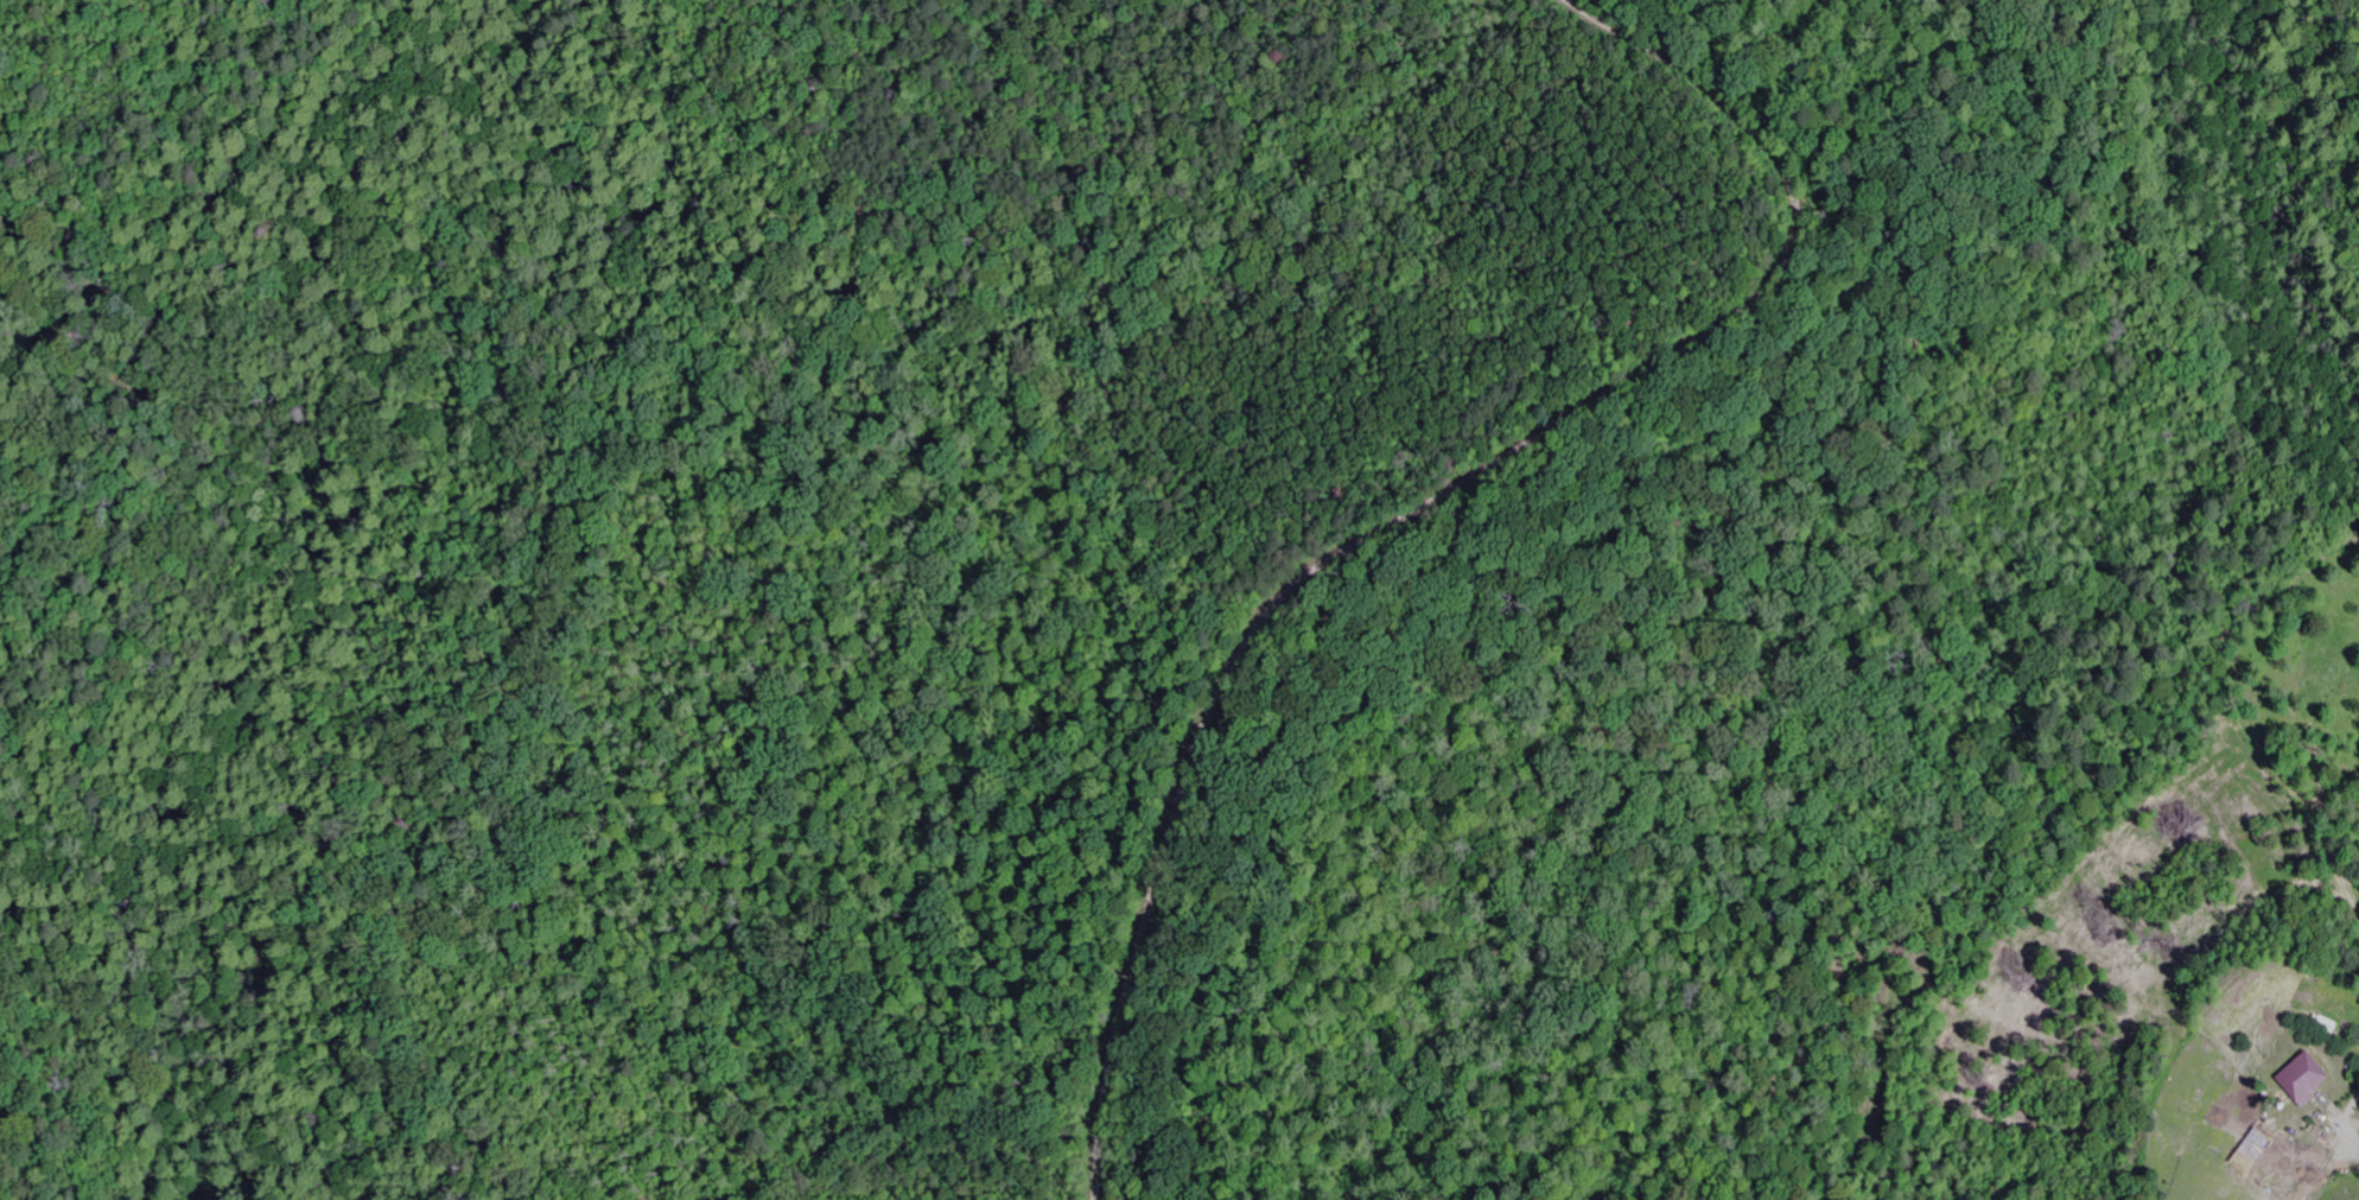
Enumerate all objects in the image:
river: (303, 407)
road: (1426, 504)
building: (2310, 1079)
building: (2262, 1145)

